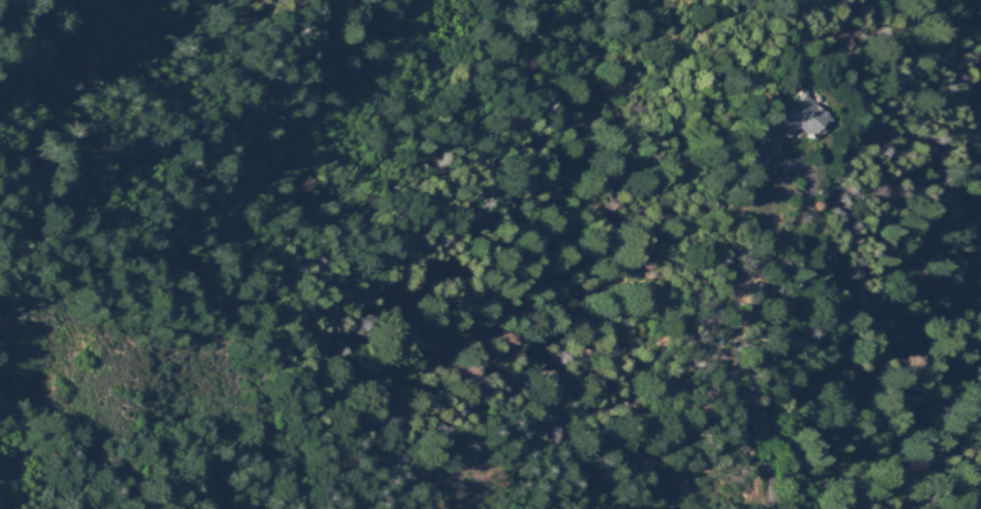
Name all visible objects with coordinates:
building: (804, 119)

